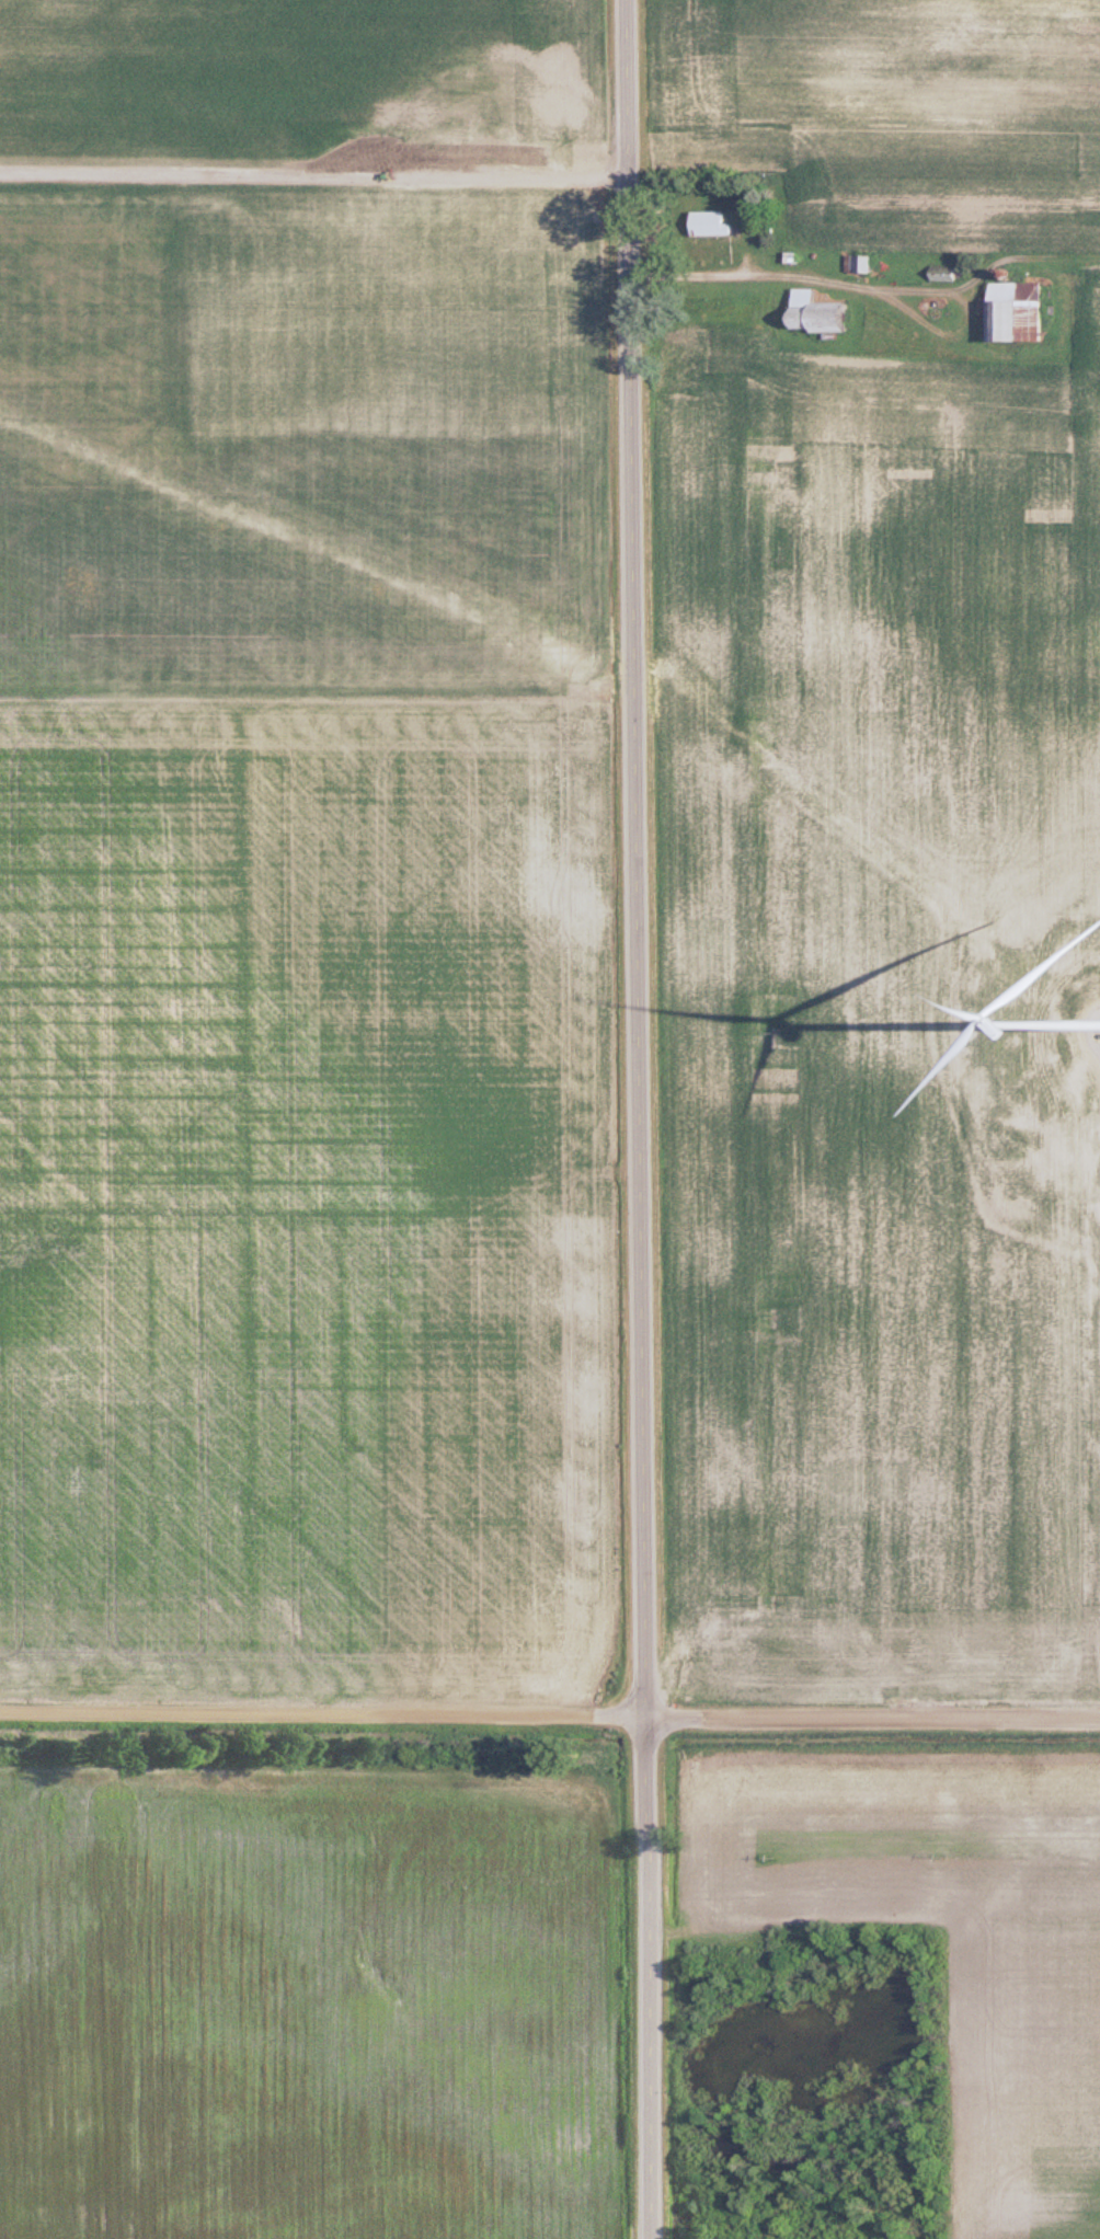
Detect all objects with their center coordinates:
building: (708, 223)
building: (859, 264)
road: (864, 286)
building: (1012, 311)
building: (813, 313)
road: (639, 1118)
road: (549, 1719)

